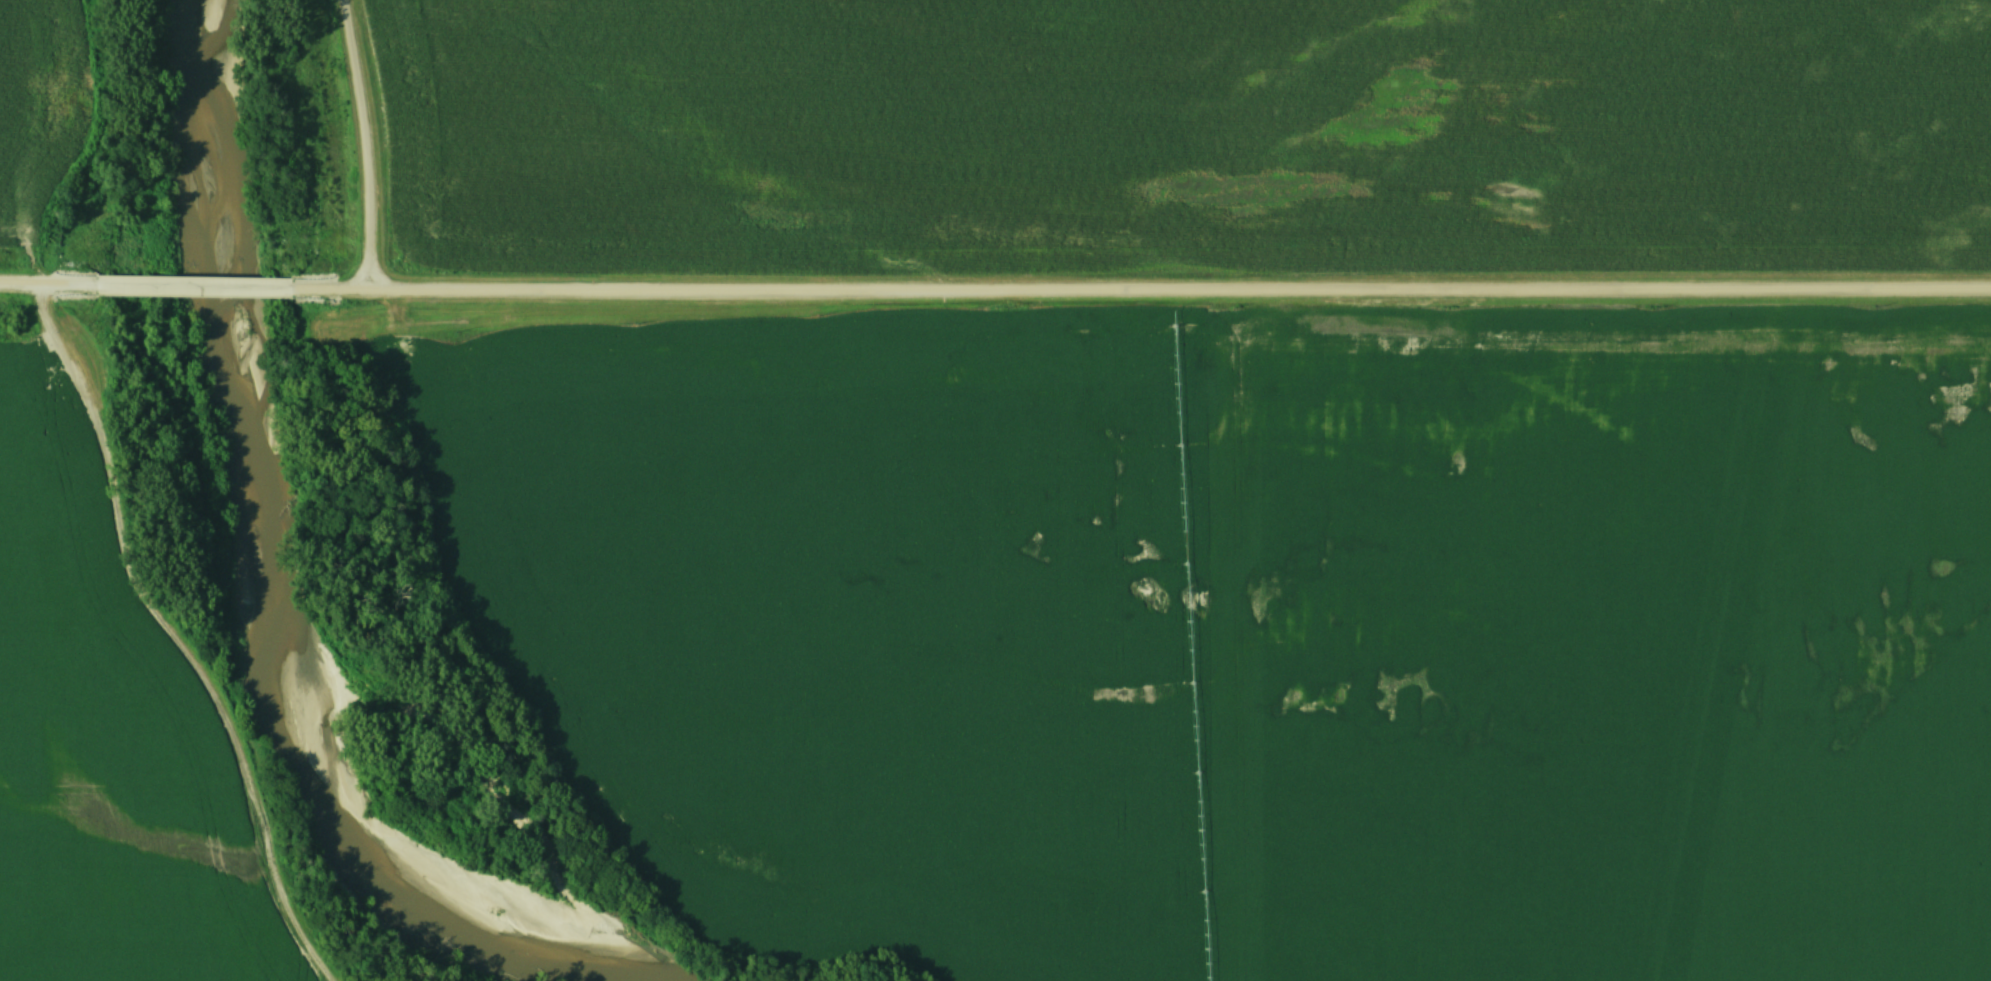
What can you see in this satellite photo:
road: (368, 140)
road: (191, 280)
road: (48, 281)
road: (1138, 292)
river: (248, 584)
road: (170, 634)

